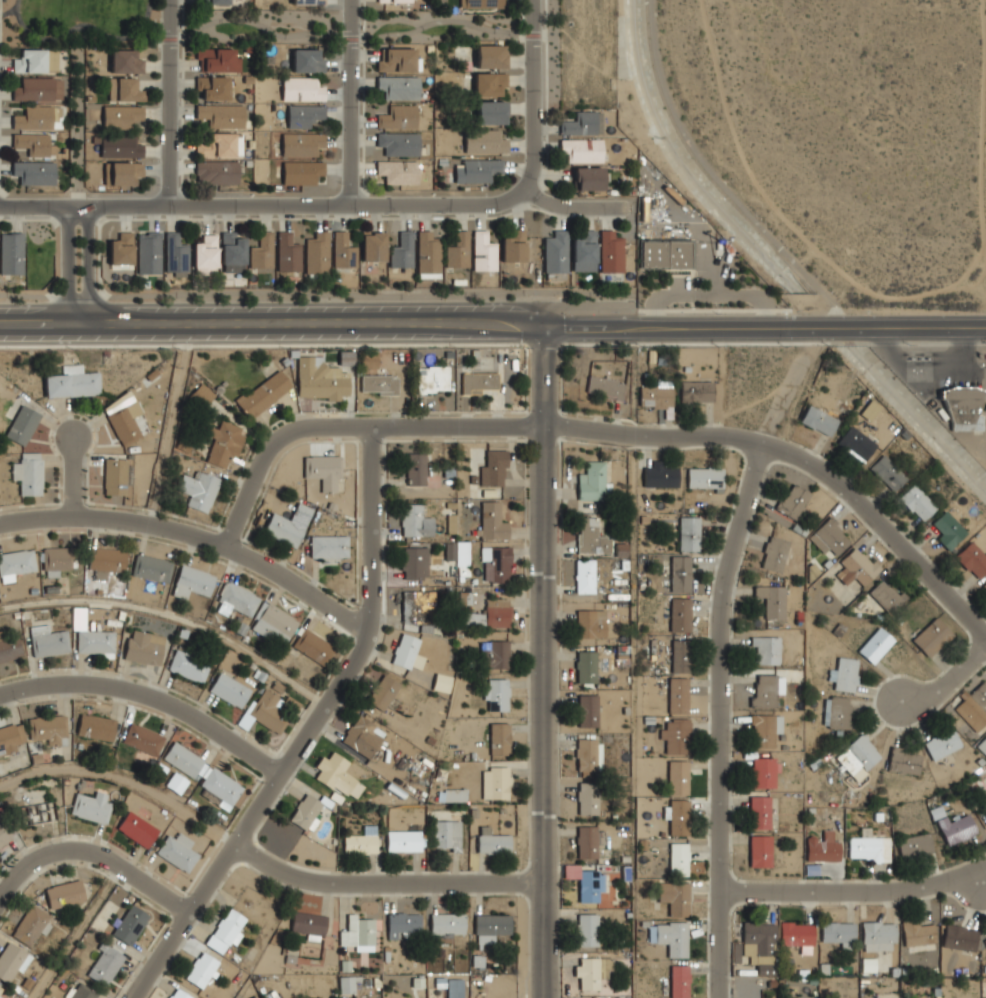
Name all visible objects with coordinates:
building: (394, 1)
building: (212, 2)
building: (308, 2)
building: (483, 4)
road: (12, 10)
park: (81, 22)
road: (71, 27)
road: (318, 32)
building: (491, 56)
building: (397, 59)
building: (36, 60)
building: (216, 60)
building: (307, 60)
building: (125, 62)
building: (490, 85)
building: (399, 86)
building: (212, 88)
building: (302, 88)
building: (38, 89)
building: (125, 89)
road: (534, 99)
road: (351, 101)
road: (172, 102)
building: (491, 112)
building: (303, 114)
road: (79, 115)
building: (121, 115)
building: (220, 115)
building: (399, 116)
building: (36, 118)
building: (581, 124)
building: (484, 141)
building: (399, 142)
building: (300, 143)
building: (33, 144)
building: (219, 145)
building: (120, 146)
building: (581, 150)
building: (478, 169)
building: (398, 170)
building: (123, 171)
building: (216, 171)
building: (303, 171)
building: (34, 172)
road: (716, 177)
building: (588, 178)
road: (262, 204)
road: (578, 207)
building: (372, 246)
building: (513, 247)
building: (121, 249)
building: (343, 251)
building: (401, 251)
building: (458, 251)
building: (231, 252)
building: (261, 252)
building: (483, 252)
building: (583, 252)
building: (610, 252)
building: (148, 253)
building: (204, 253)
building: (287, 253)
building: (317, 253)
building: (12, 254)
building: (664, 254)
building: (175, 255)
building: (428, 255)
building: (555, 255)
road: (77, 266)
road: (317, 292)
road: (833, 325)
road: (926, 325)
road: (399, 326)
building: (919, 357)
building: (369, 359)
building: (317, 378)
building: (432, 378)
building: (72, 381)
building: (479, 382)
building: (379, 384)
building: (605, 387)
building: (696, 391)
building: (203, 392)
building: (263, 393)
building: (655, 394)
building: (963, 407)
building: (869, 410)
building: (818, 419)
building: (125, 422)
building: (22, 423)
road: (167, 425)
road: (607, 429)
building: (225, 442)
building: (856, 444)
building: (494, 467)
building: (415, 468)
building: (324, 470)
building: (28, 472)
building: (887, 472)
building: (114, 474)
building: (661, 476)
building: (705, 477)
road: (74, 479)
building: (592, 480)
building: (199, 489)
building: (793, 500)
building: (917, 501)
building: (302, 511)
building: (415, 520)
building: (492, 520)
building: (283, 529)
building: (948, 529)
building: (690, 533)
road: (196, 534)
building: (830, 534)
building: (591, 536)
building: (328, 545)
building: (774, 553)
building: (462, 558)
building: (972, 558)
building: (60, 559)
building: (105, 560)
building: (16, 561)
building: (414, 562)
building: (496, 563)
building: (148, 565)
building: (857, 566)
building: (678, 573)
building: (585, 575)
building: (191, 581)
building: (984, 585)
building: (887, 594)
building: (235, 599)
building: (772, 599)
building: (416, 606)
building: (497, 611)
building: (680, 614)
road: (174, 615)
building: (591, 623)
building: (274, 624)
building: (931, 637)
building: (48, 638)
building: (95, 641)
building: (313, 645)
building: (876, 645)
building: (143, 646)
building: (8, 647)
building: (765, 649)
building: (408, 652)
building: (496, 654)
building: (680, 655)
road: (543, 661)
building: (188, 665)
building: (586, 666)
building: (846, 674)
road: (946, 675)
building: (442, 682)
building: (229, 689)
building: (383, 691)
building: (766, 691)
building: (496, 693)
road: (149, 694)
building: (677, 694)
building: (974, 708)
building: (588, 709)
building: (266, 710)
building: (838, 712)
road: (723, 717)
building: (95, 727)
building: (45, 729)
road: (309, 729)
building: (764, 729)
building: (676, 735)
building: (361, 736)
building: (10, 737)
building: (500, 738)
building: (142, 739)
building: (942, 744)
building: (983, 745)
building: (588, 753)
building: (858, 756)
building: (184, 760)
building: (905, 760)
building: (763, 772)
road: (124, 776)
building: (339, 776)
building: (677, 776)
building: (496, 782)
building: (176, 783)
building: (219, 789)
building: (455, 795)
building: (588, 798)
building: (90, 807)
building: (983, 808)
building: (759, 811)
building: (306, 812)
building: (678, 817)
building: (953, 826)
building: (136, 829)
building: (3, 835)
building: (446, 835)
building: (363, 840)
building: (403, 840)
building: (589, 840)
building: (494, 843)
building: (915, 845)
building: (822, 847)
building: (869, 849)
building: (759, 850)
road: (91, 852)
building: (176, 852)
building: (679, 858)
road: (383, 883)
building: (590, 884)
road: (855, 890)
building: (65, 893)
building: (674, 897)
building: (30, 922)
building: (402, 922)
building: (131, 924)
building: (308, 924)
building: (229, 925)
building: (446, 925)
building: (491, 926)
building: (587, 929)
road: (75, 932)
building: (359, 932)
building: (918, 932)
building: (797, 933)
building: (837, 933)
building: (878, 935)
building: (960, 936)
building: (673, 938)
building: (985, 940)
building: (760, 946)
building: (11, 960)
building: (105, 964)
building: (201, 969)
building: (590, 971)
building: (679, 982)
building: (347, 983)
building: (455, 987)
building: (80, 992)
building: (2, 993)
building: (179, 994)
building: (985, 996)
building: (626, 997)

